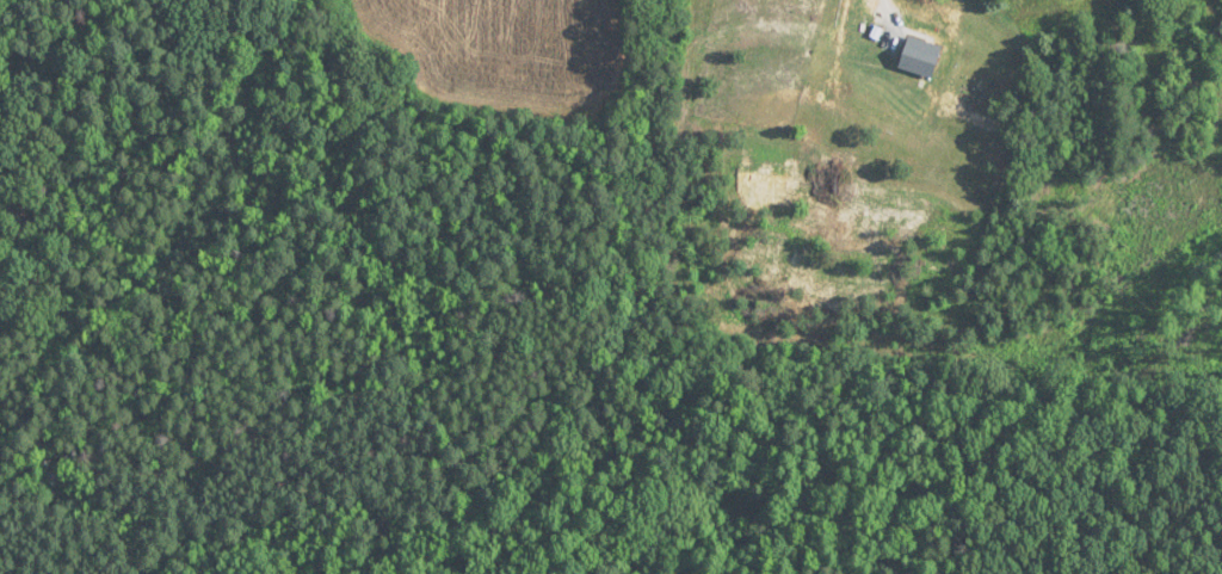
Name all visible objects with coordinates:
road: (888, 11)

